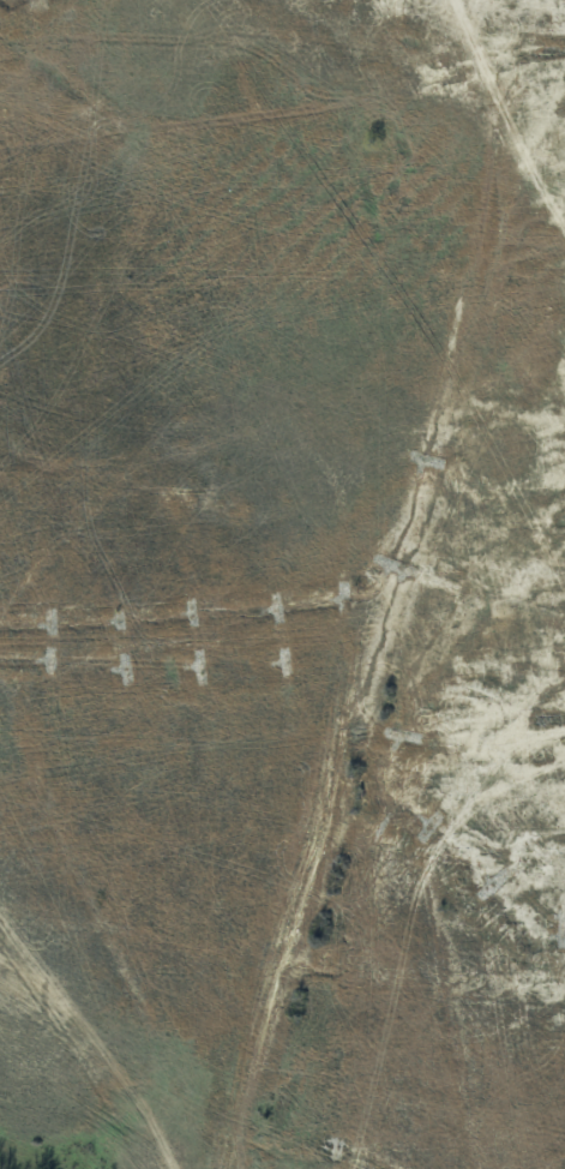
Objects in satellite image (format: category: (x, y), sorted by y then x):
road: (463, 26)

